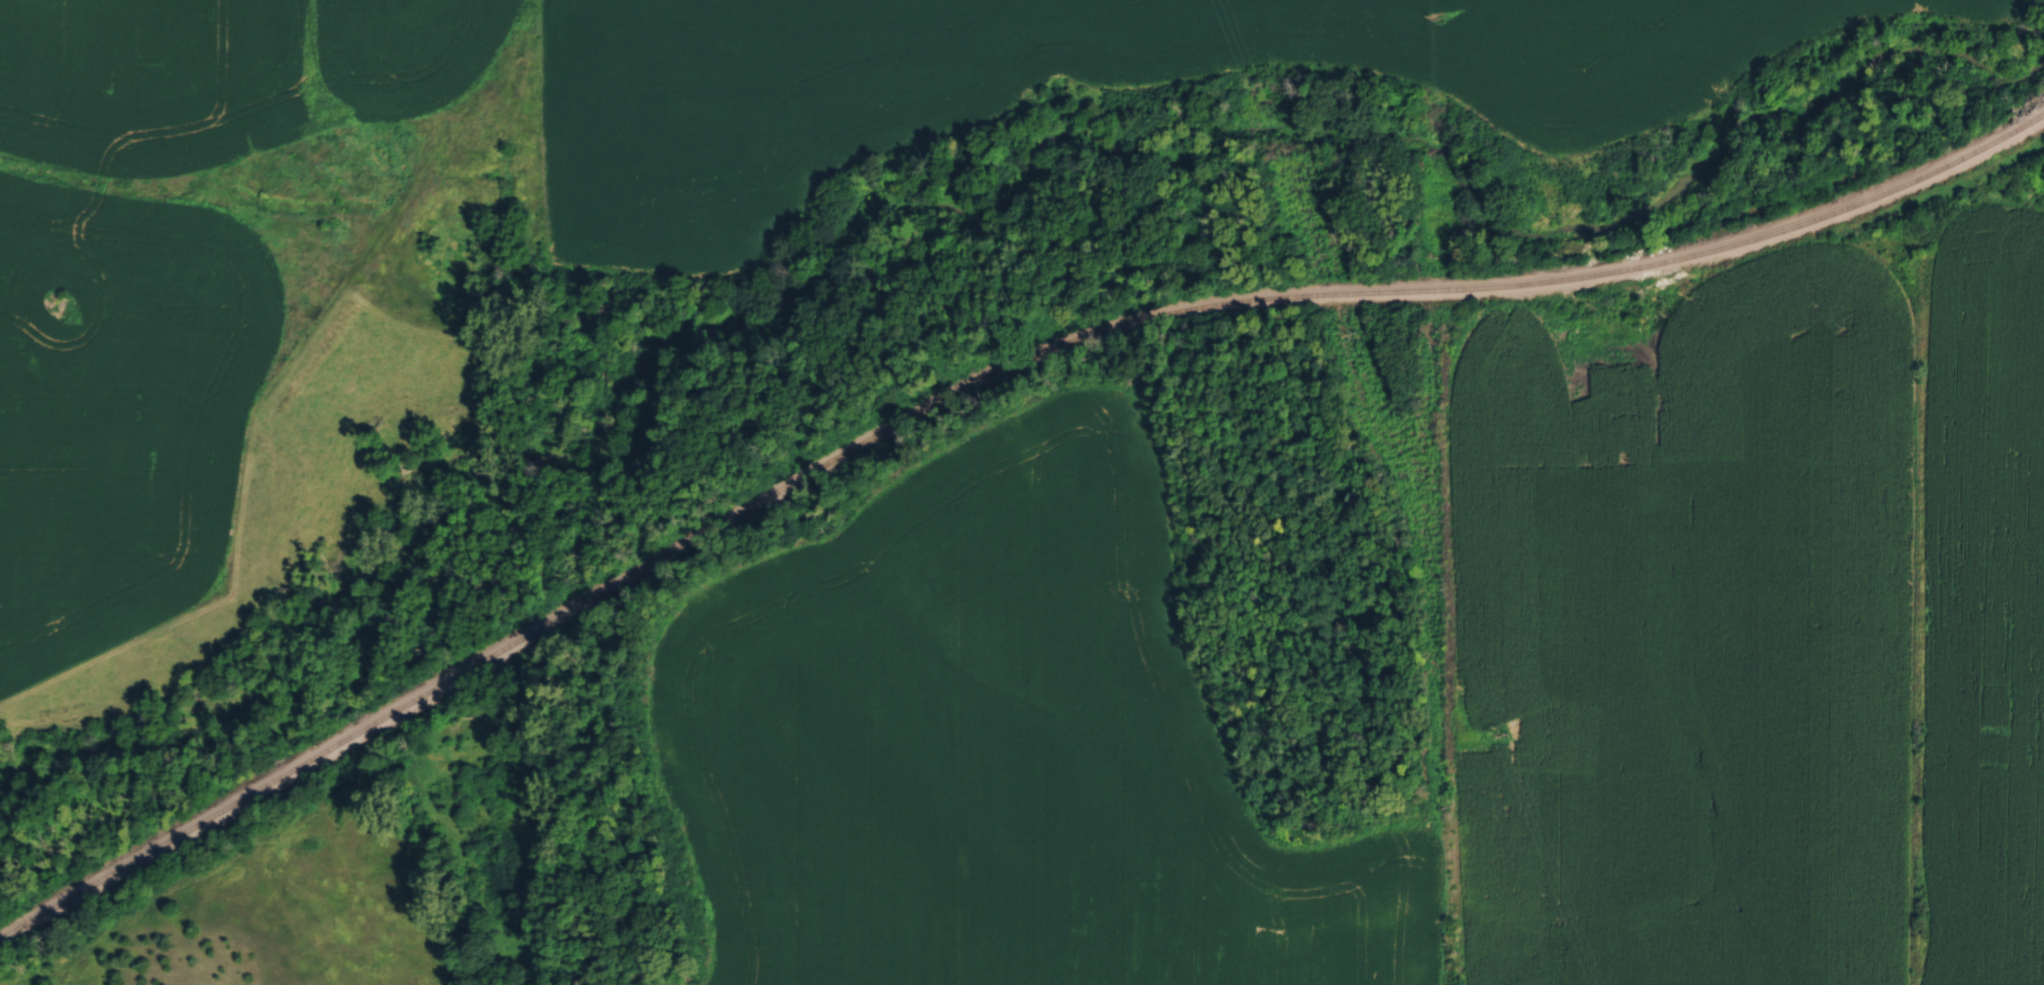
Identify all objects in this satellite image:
power tower: (1359, 333)
railway: (970, 379)
power tower: (1505, 736)

